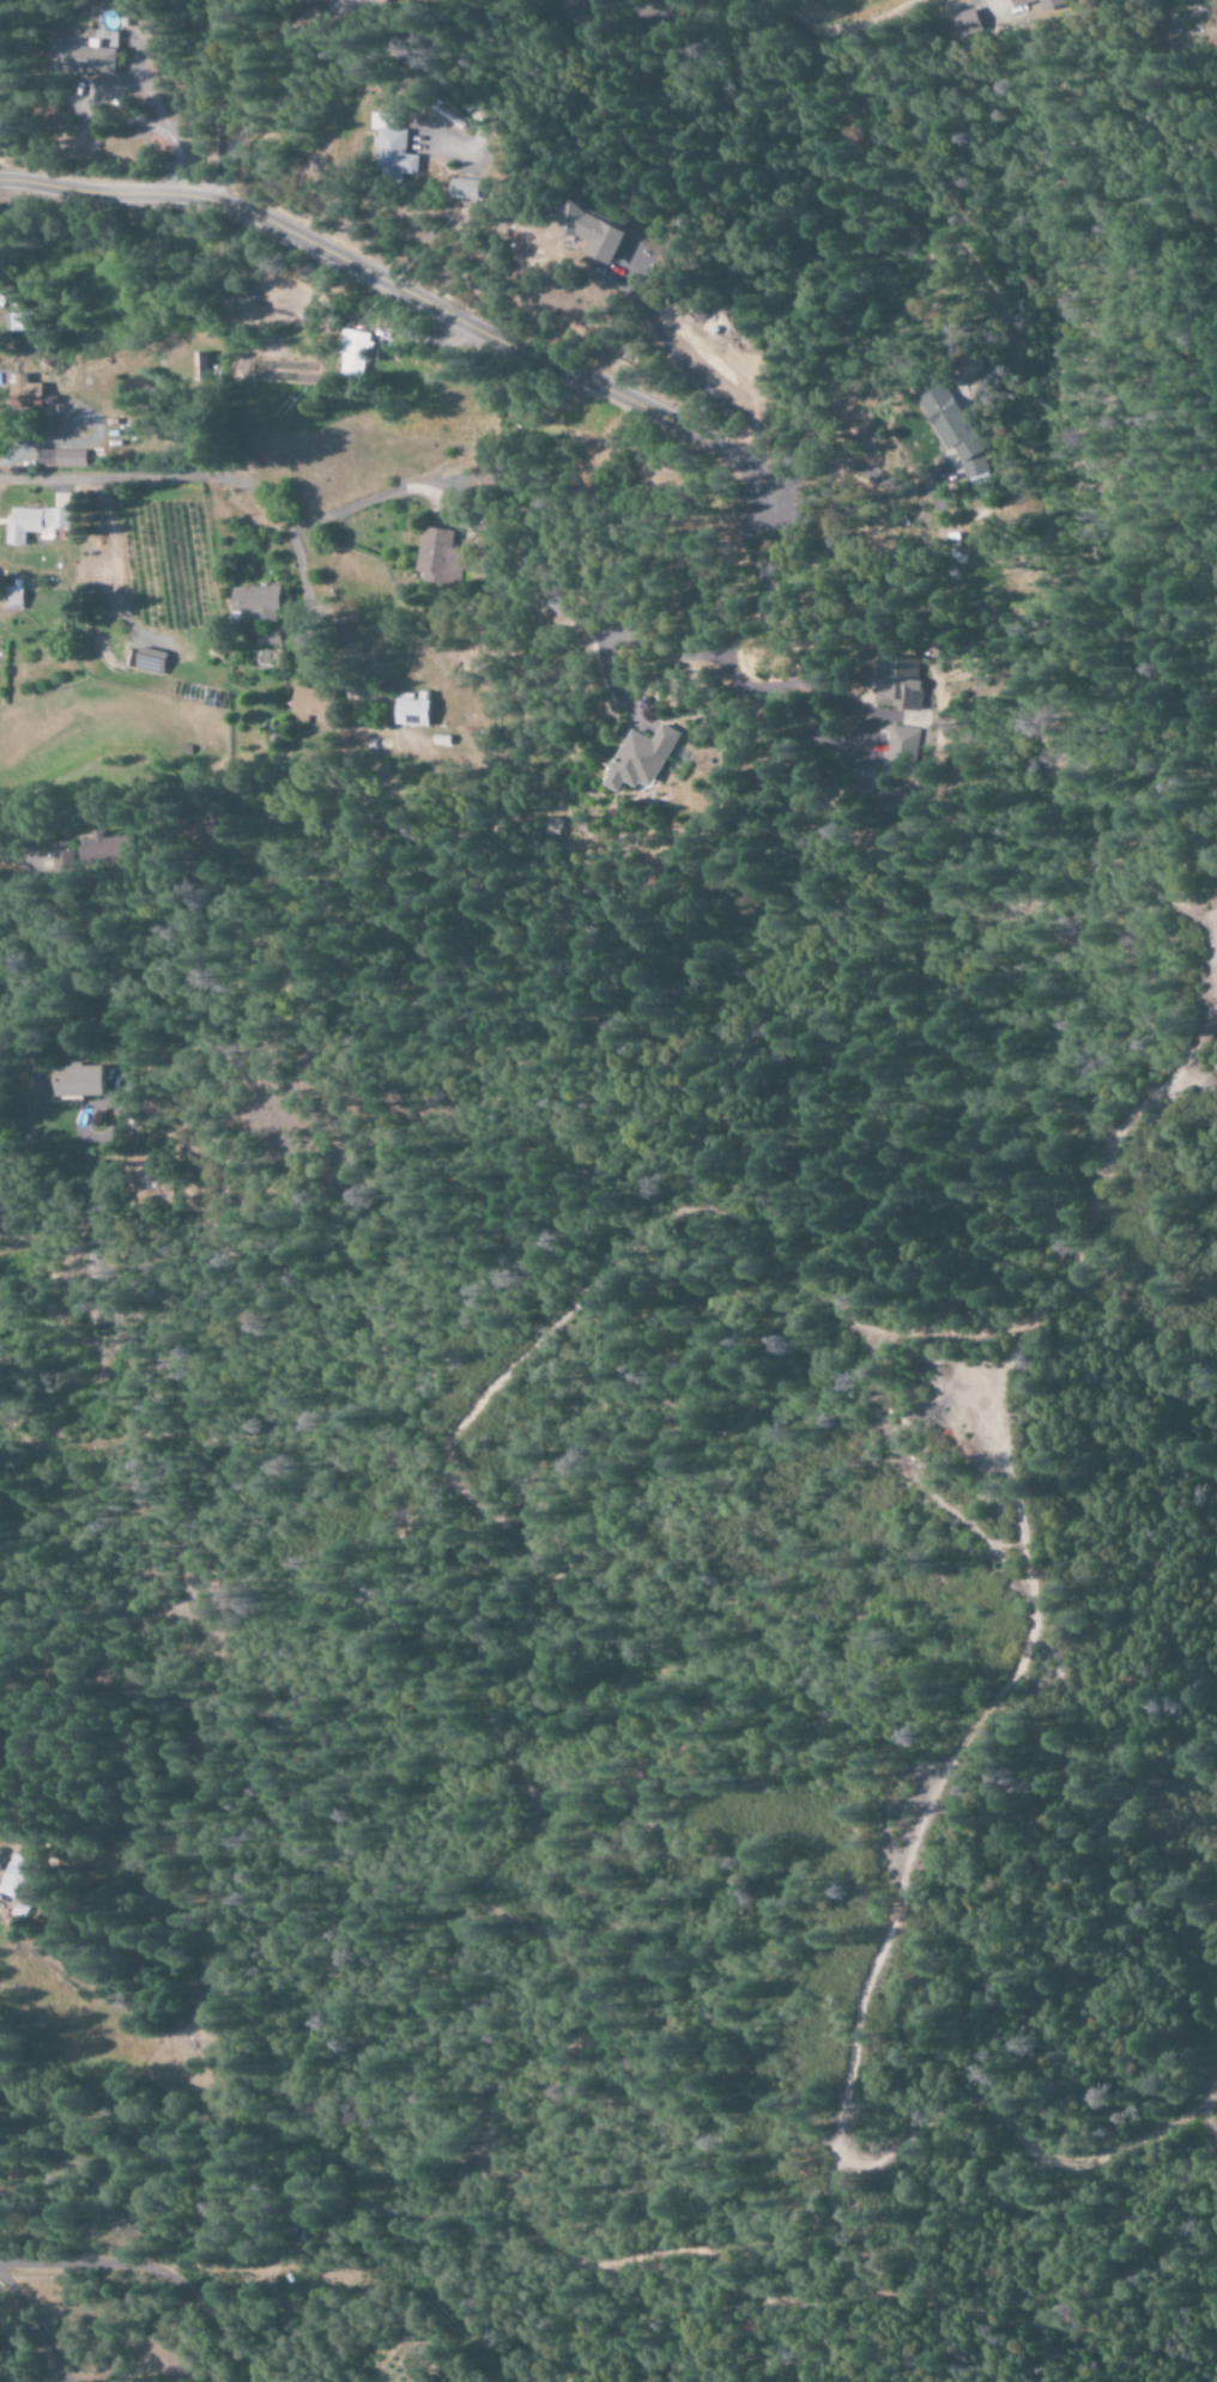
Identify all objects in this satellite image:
building: (380, 0)
building: (339, 4)
building: (1045, 4)
road: (992, 5)
building: (963, 24)
building: (89, 56)
building: (385, 147)
building: (458, 188)
building: (586, 232)
road: (404, 296)
building: (18, 322)
building: (353, 353)
building: (22, 393)
building: (952, 430)
building: (60, 459)
building: (32, 522)
building: (437, 556)
building: (11, 596)
building: (253, 601)
building: (898, 683)
building: (311, 702)
building: (412, 710)
building: (638, 758)
building: (86, 850)
building: (78, 1080)
building: (16, 1877)
road: (157, 2272)

